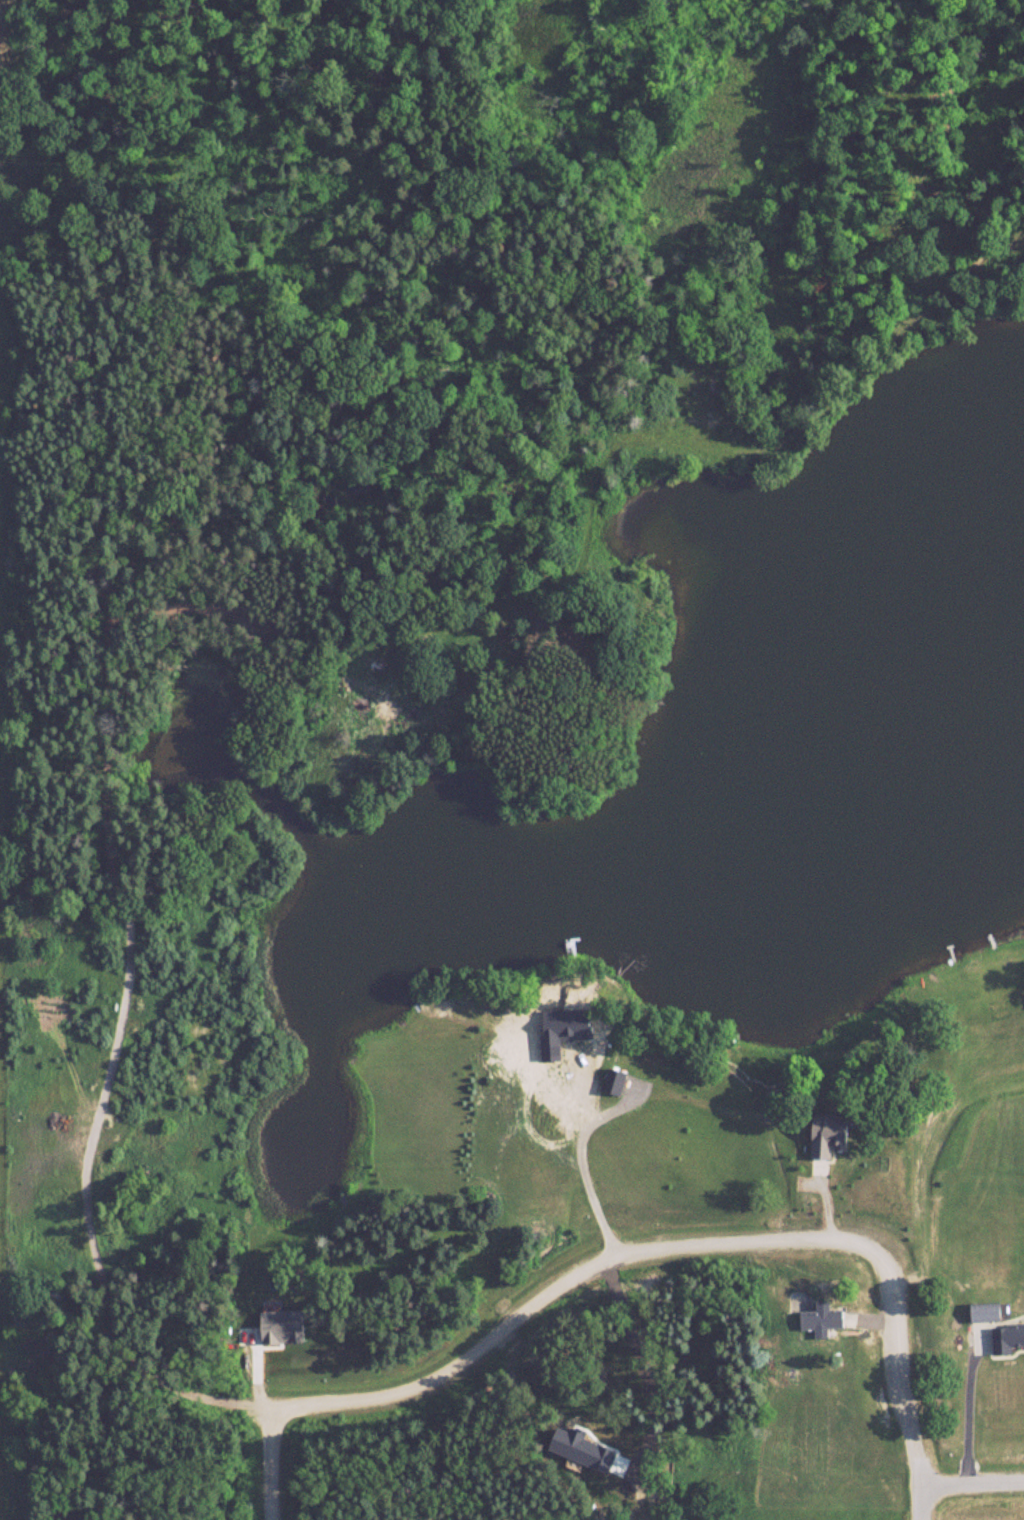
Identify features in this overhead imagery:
building: (582, 1022)
building: (618, 1080)
building: (834, 1133)
road: (599, 1154)
road: (607, 1258)
building: (990, 1311)
building: (825, 1319)
road: (980, 1410)
road: (971, 1482)
road: (918, 1484)

